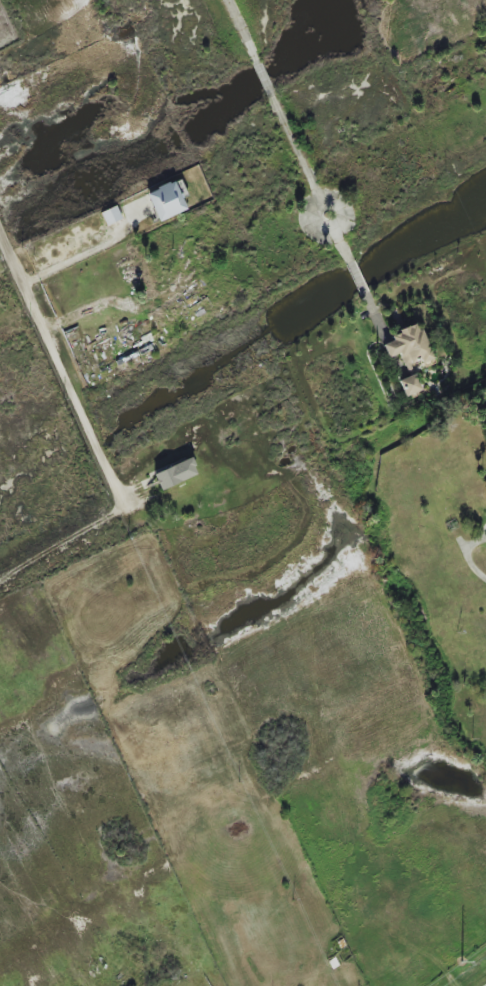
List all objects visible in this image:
road: (277, 106)
building: (165, 201)
building: (111, 216)
road: (338, 237)
road: (78, 259)
road: (356, 277)
road: (373, 314)
building: (407, 346)
road: (51, 350)
building: (408, 385)
building: (174, 473)

